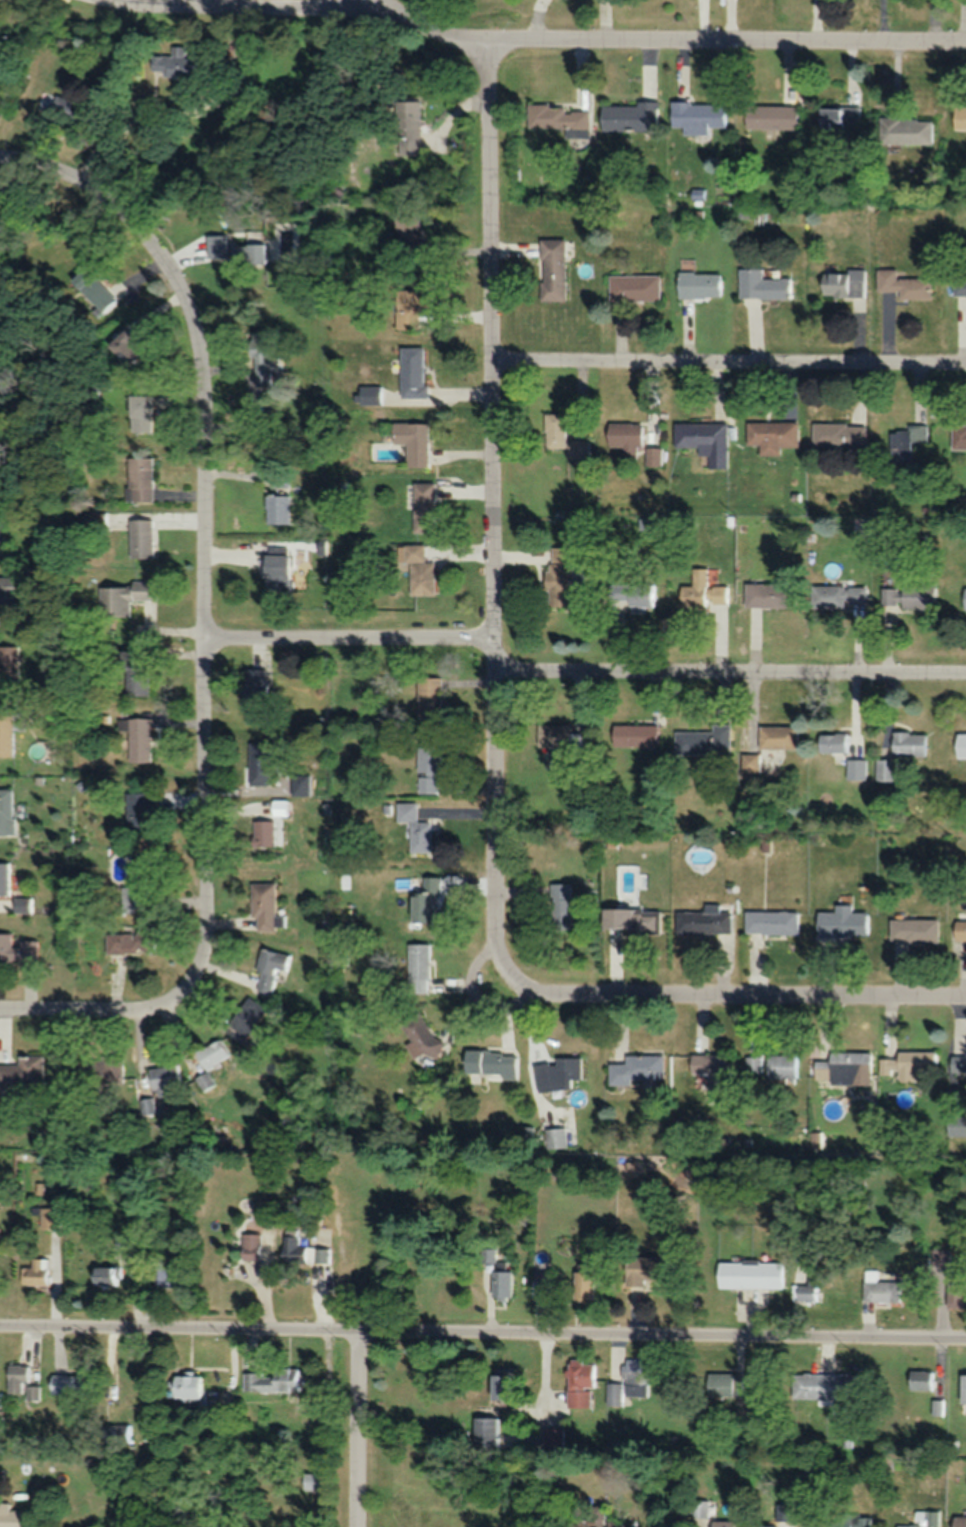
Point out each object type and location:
road: (356, 8)
road: (525, 45)
building: (180, 64)
building: (55, 104)
building: (629, 116)
building: (697, 116)
building: (772, 116)
building: (959, 117)
building: (557, 118)
building: (840, 119)
building: (409, 126)
building: (906, 130)
road: (72, 180)
building: (2, 206)
building: (219, 246)
building: (251, 253)
building: (553, 268)
building: (842, 282)
building: (699, 284)
building: (903, 284)
building: (763, 285)
building: (959, 286)
building: (634, 287)
building: (95, 290)
building: (411, 306)
building: (127, 348)
building: (263, 360)
road: (729, 367)
building: (413, 372)
building: (141, 406)
building: (700, 434)
building: (839, 434)
building: (772, 435)
building: (958, 436)
building: (563, 437)
building: (626, 440)
building: (411, 441)
building: (906, 442)
building: (654, 456)
building: (140, 479)
building: (279, 479)
building: (424, 507)
building: (279, 509)
road: (493, 528)
building: (142, 538)
building: (277, 568)
building: (417, 568)
building: (561, 576)
building: (695, 591)
building: (632, 593)
building: (763, 594)
building: (839, 595)
building: (909, 595)
building: (122, 597)
building: (965, 598)
road: (204, 614)
road: (349, 645)
building: (9, 662)
building: (137, 669)
road: (730, 676)
building: (254, 695)
building: (427, 698)
building: (6, 734)
building: (634, 734)
building: (559, 737)
building: (778, 737)
building: (139, 739)
building: (704, 741)
building: (833, 742)
building: (909, 744)
building: (961, 744)
building: (259, 762)
building: (427, 769)
building: (857, 769)
building: (887, 770)
building: (300, 784)
building: (280, 807)
building: (138, 810)
building: (6, 811)
building: (414, 827)
building: (263, 833)
building: (5, 878)
building: (138, 887)
building: (425, 900)
building: (560, 906)
building: (264, 907)
building: (632, 919)
building: (703, 920)
building: (773, 922)
building: (843, 924)
building: (915, 929)
building: (960, 929)
building: (134, 939)
building: (17, 948)
building: (418, 968)
building: (270, 969)
road: (749, 1000)
road: (81, 1009)
building: (244, 1020)
building: (420, 1036)
building: (958, 1062)
building: (209, 1063)
building: (756, 1064)
building: (491, 1065)
building: (783, 1066)
building: (910, 1066)
building: (846, 1068)
building: (89, 1069)
building: (638, 1069)
building: (714, 1070)
building: (23, 1073)
building: (557, 1074)
building: (163, 1079)
building: (958, 1126)
building: (555, 1137)
building: (252, 1246)
building: (295, 1247)
building: (322, 1254)
building: (648, 1269)
building: (36, 1271)
building: (104, 1273)
building: (162, 1274)
building: (751, 1274)
building: (807, 1280)
building: (584, 1281)
building: (501, 1283)
building: (957, 1286)
building: (560, 1287)
building: (882, 1289)
road: (482, 1333)
building: (17, 1377)
building: (272, 1380)
building: (920, 1380)
building: (69, 1383)
building: (630, 1383)
building: (579, 1384)
building: (725, 1384)
building: (187, 1386)
building: (501, 1386)
building: (825, 1386)
building: (963, 1389)
road: (361, 1429)
building: (485, 1432)
building: (553, 1438)
building: (313, 1481)
building: (700, 1509)
building: (784, 1512)
building: (11, 1517)
building: (596, 1519)
building: (929, 1519)
building: (852, 1521)
building: (958, 1521)
building: (722, 1523)
building: (766, 1526)

